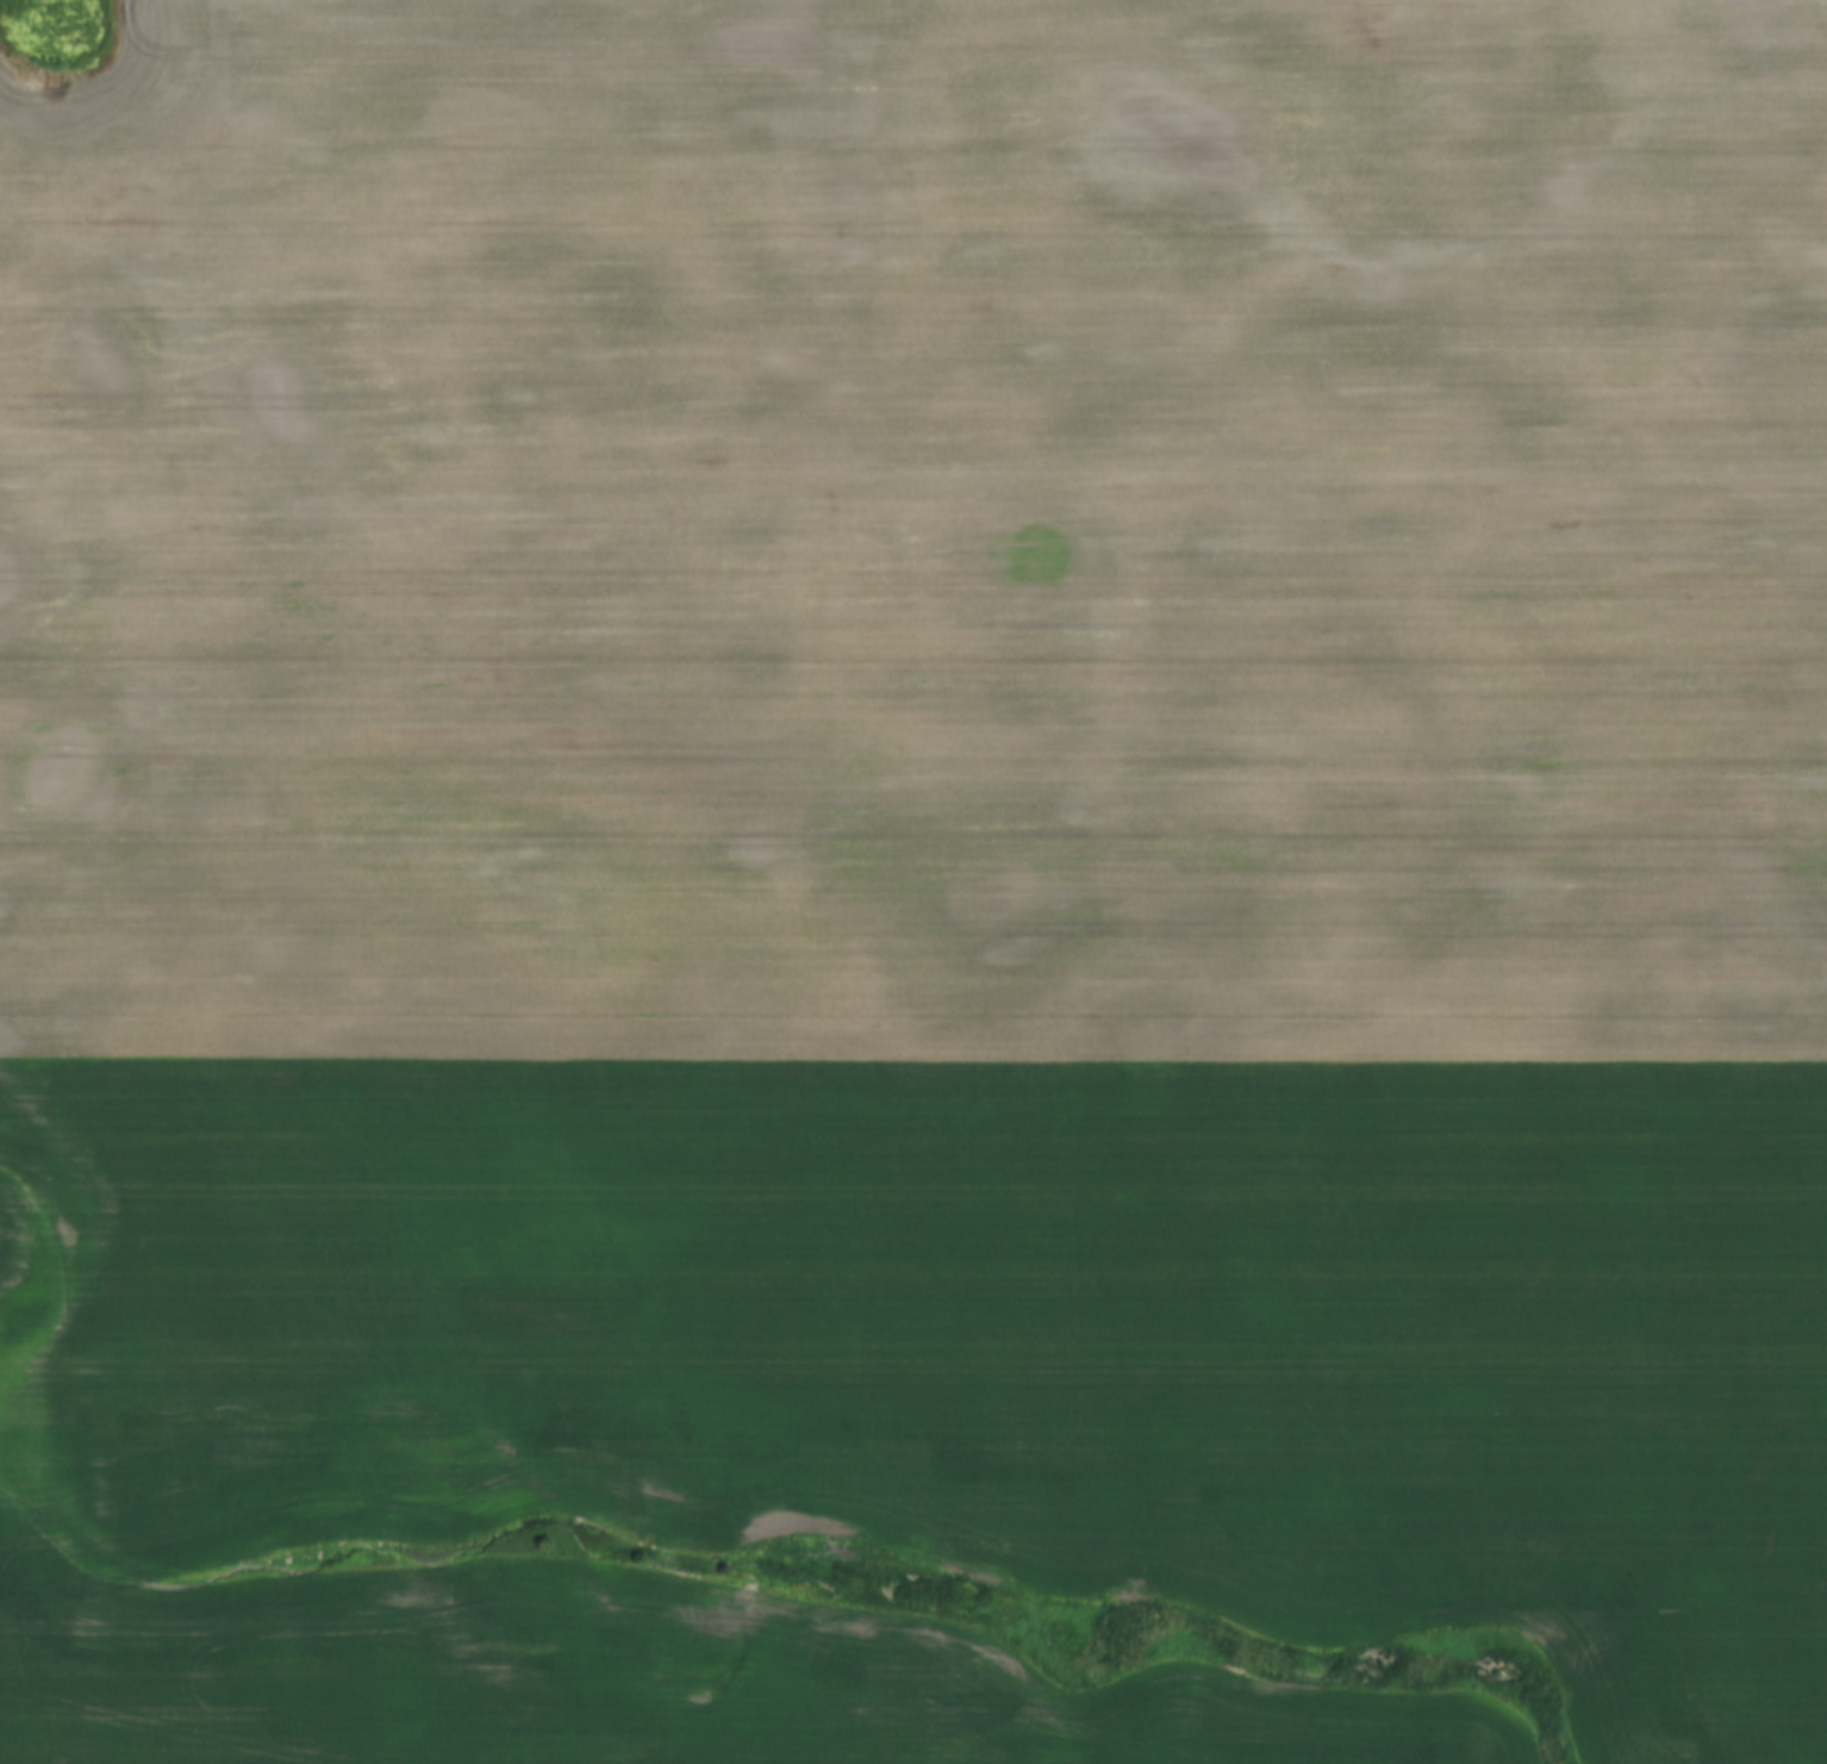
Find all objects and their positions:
road: (843, 669)

